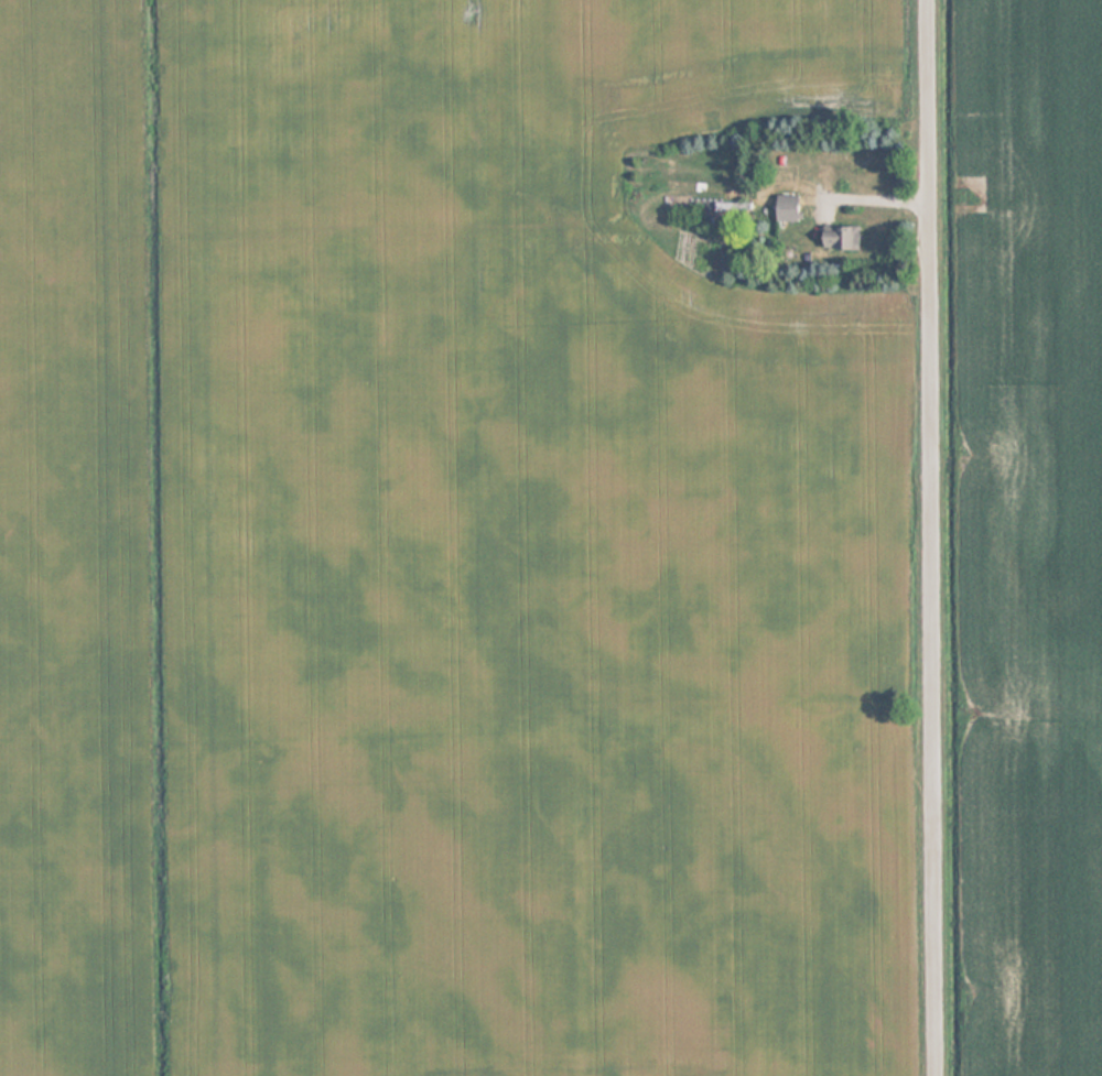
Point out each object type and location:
building: (782, 208)
building: (839, 238)
road: (938, 537)

